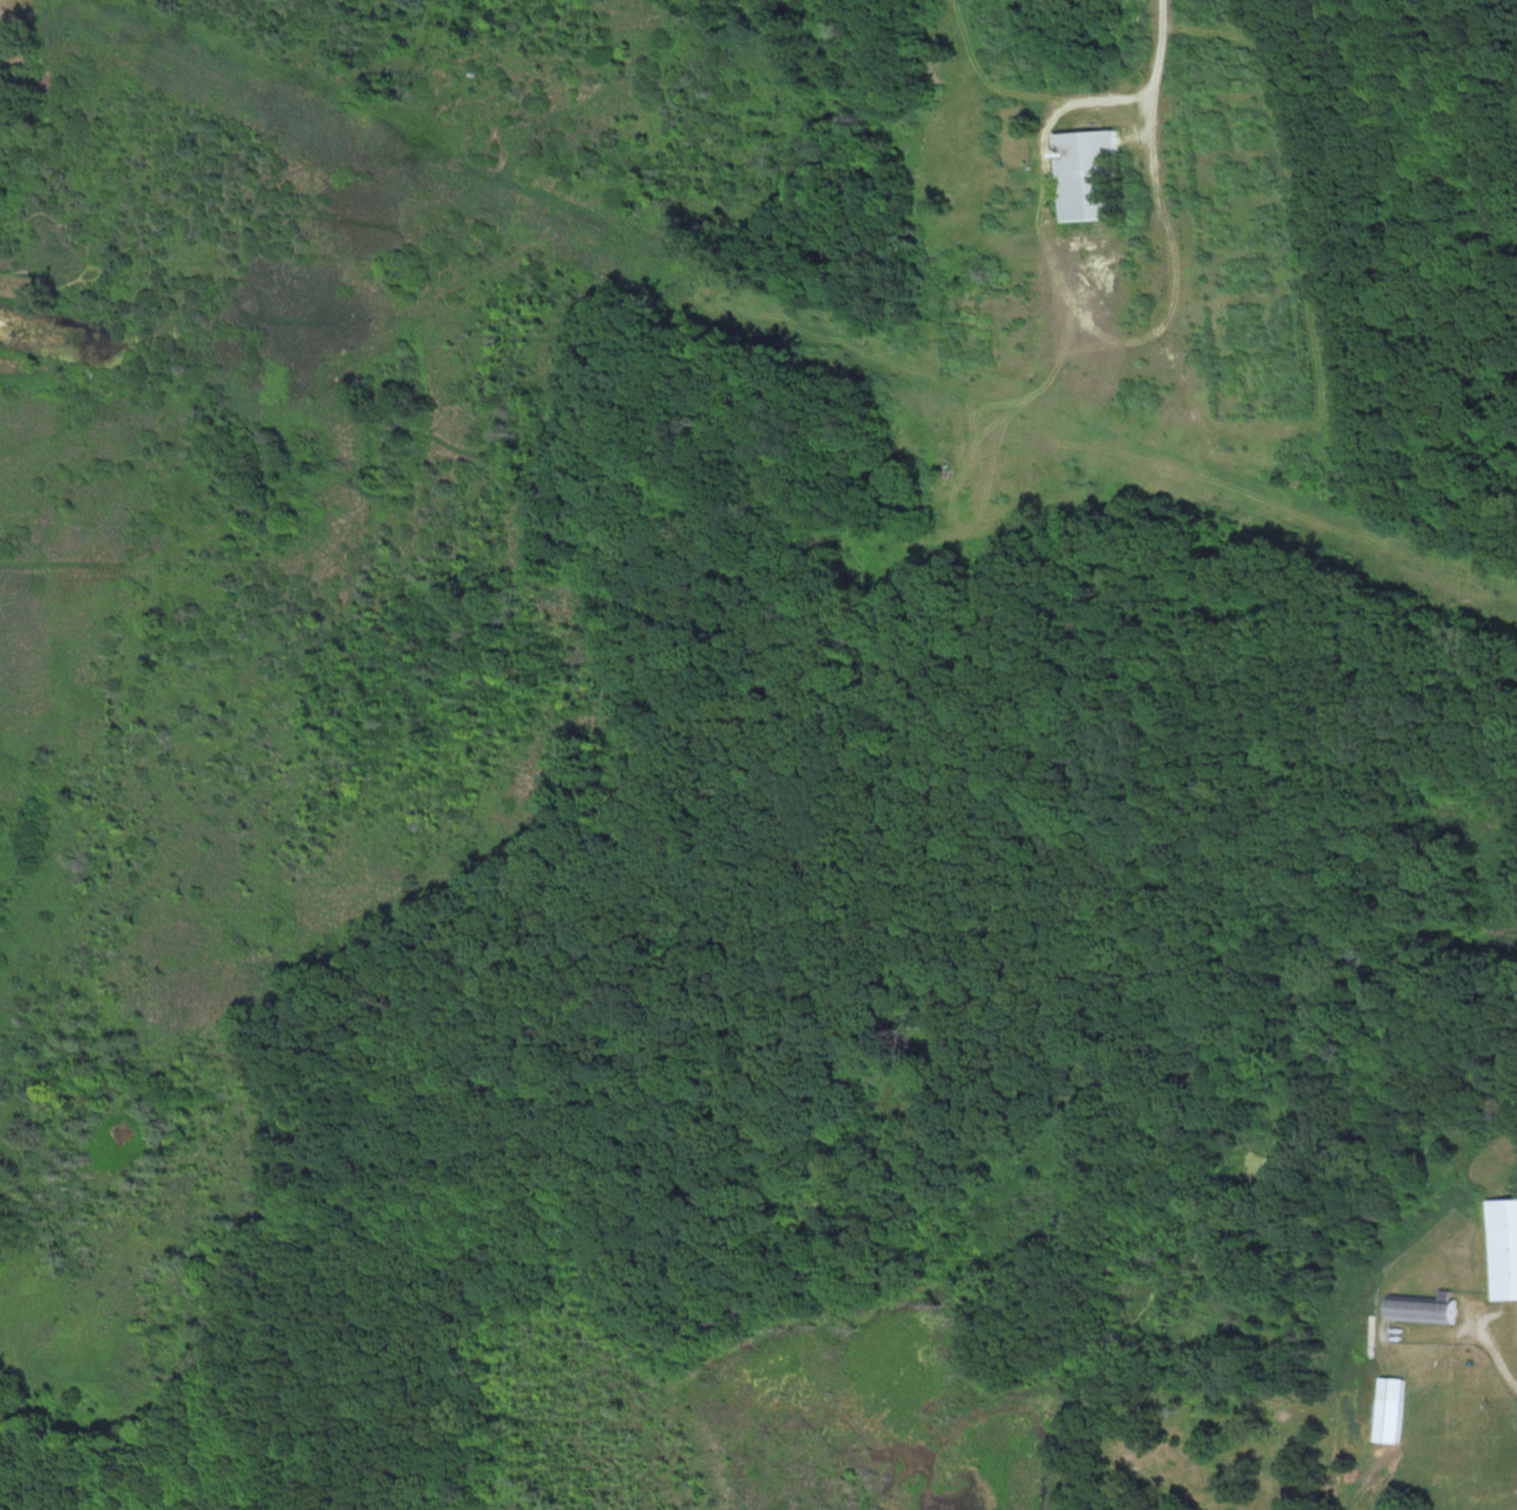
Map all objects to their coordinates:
road: (1162, 46)
building: (1090, 173)
road: (1150, 228)
building: (1505, 1248)
building: (1424, 1310)
road: (1492, 1352)
building: (1392, 1409)

